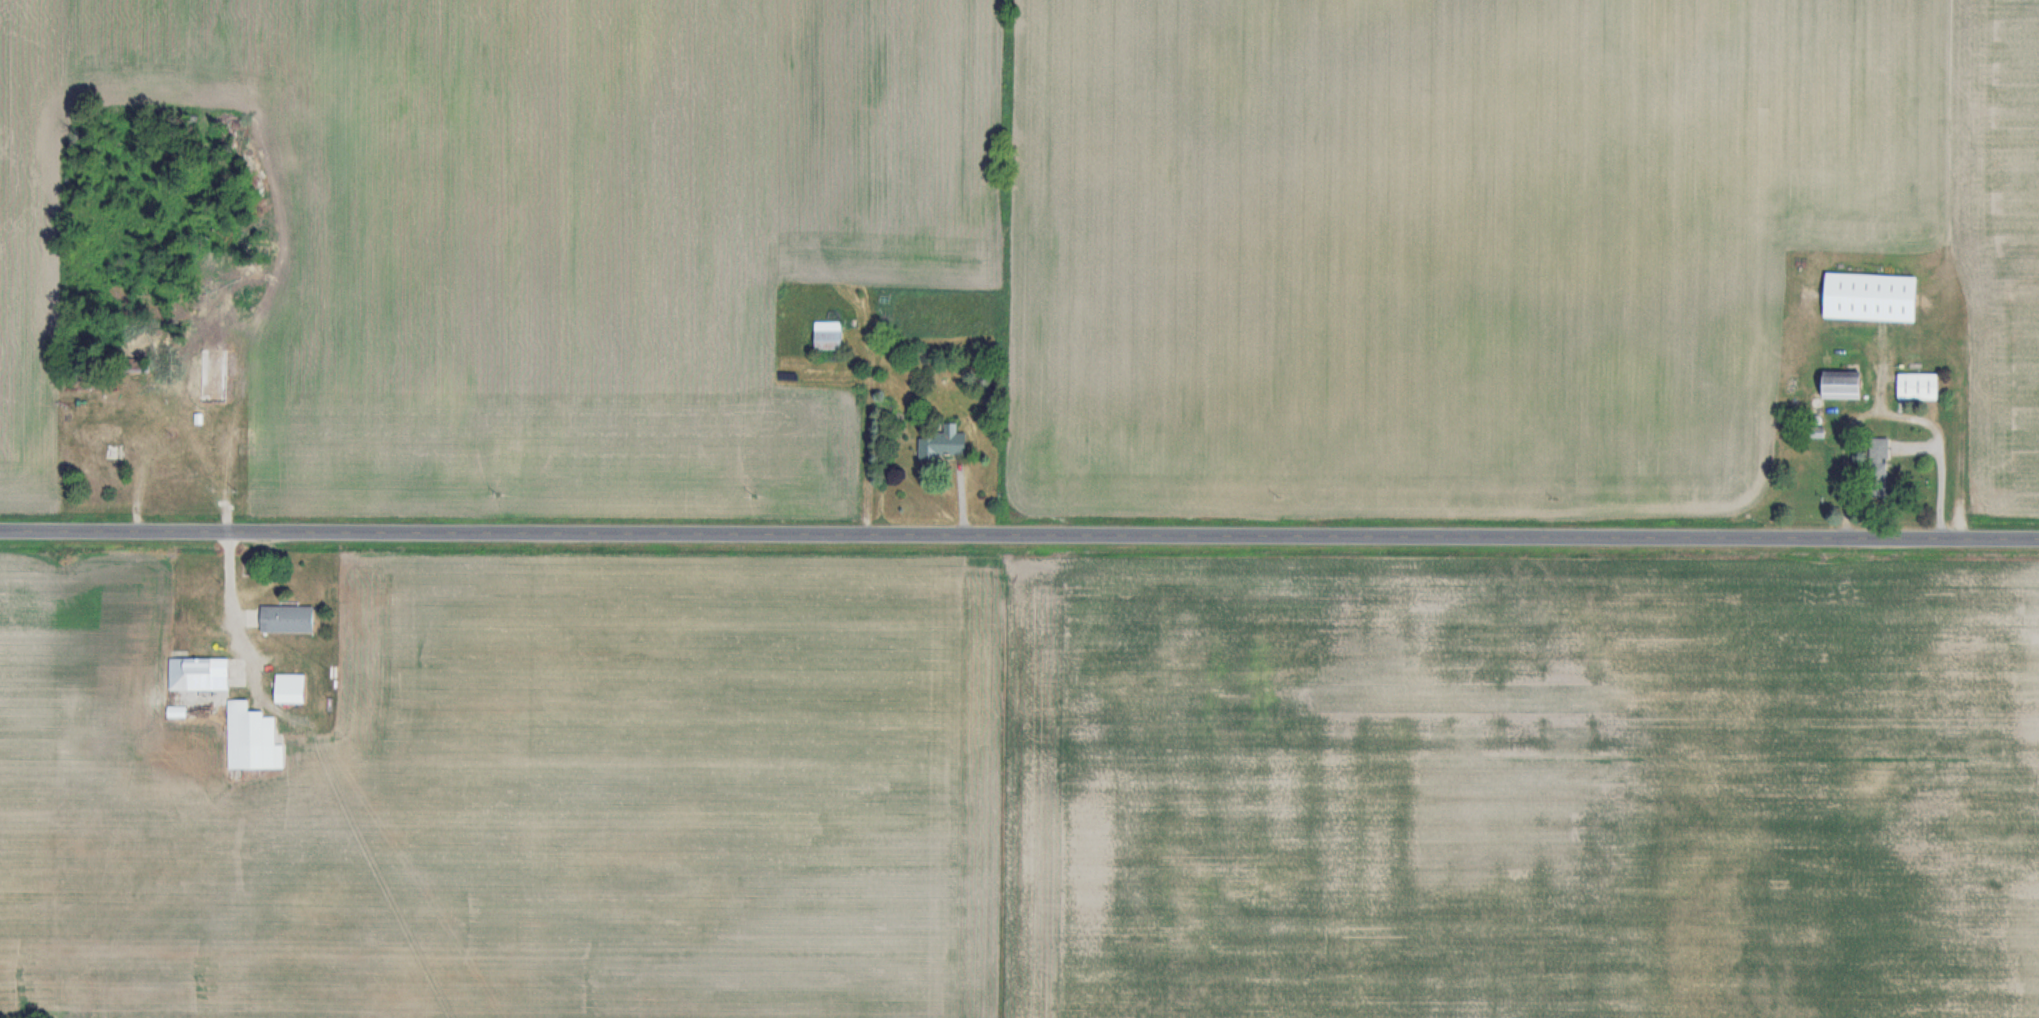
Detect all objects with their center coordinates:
building: (827, 335)
building: (212, 376)
building: (1837, 385)
building: (1915, 386)
building: (940, 443)
building: (97, 453)
building: (1876, 462)
road: (1019, 535)
road: (224, 598)
building: (283, 619)
building: (197, 674)
building: (287, 689)
building: (250, 740)

